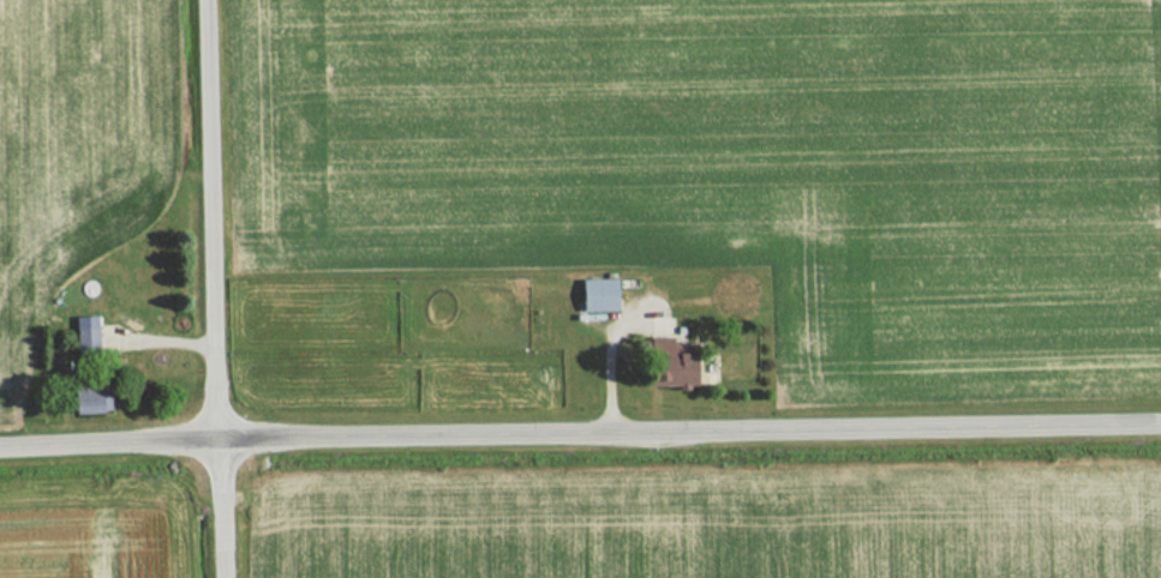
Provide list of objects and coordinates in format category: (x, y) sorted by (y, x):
crop: (74, 145)
crop: (737, 165)
road: (214, 289)
building: (591, 295)
building: (82, 332)
building: (657, 348)
road: (580, 436)
crop: (713, 526)
crop: (84, 538)

